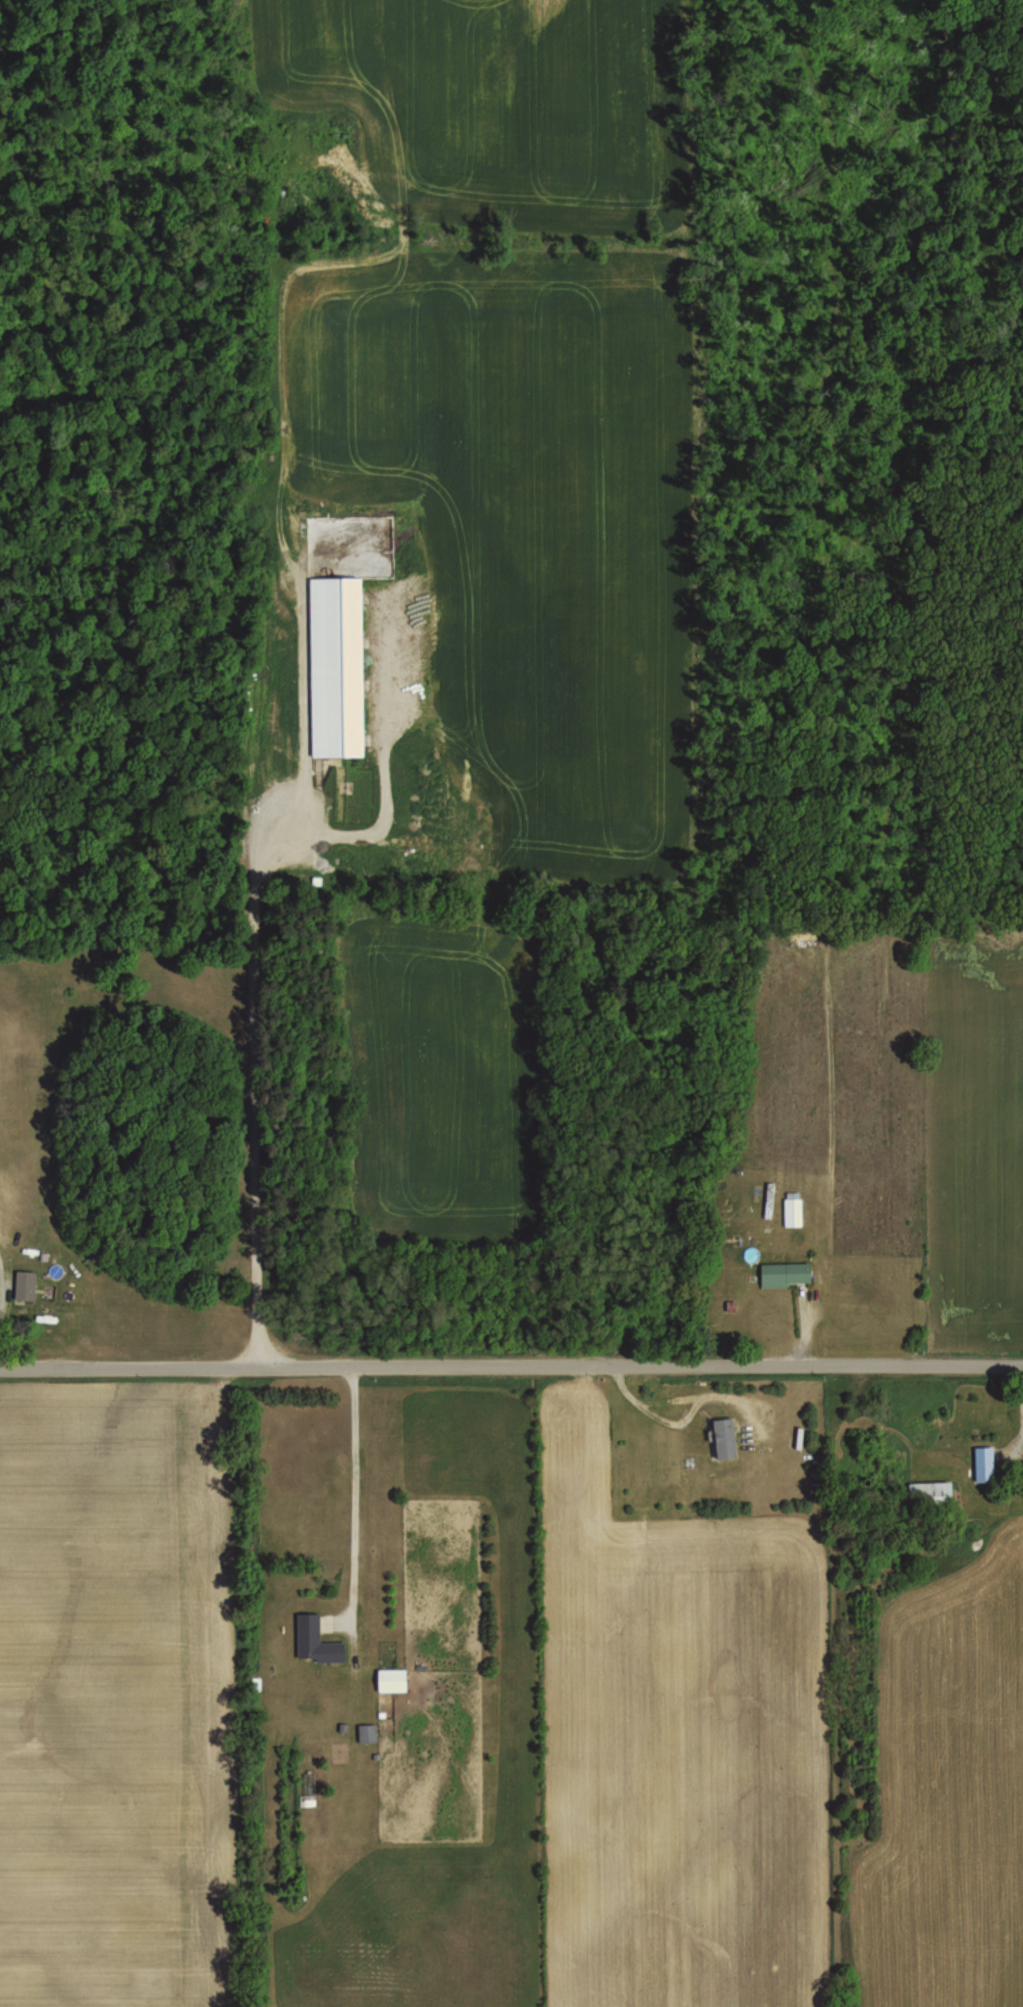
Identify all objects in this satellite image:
building: (335, 667)
road: (256, 1097)
crop: (901, 1103)
building: (770, 1201)
building: (794, 1210)
building: (43, 1256)
building: (786, 1271)
building: (24, 1283)
road: (6, 1288)
building: (730, 1305)
road: (803, 1330)
road: (511, 1364)
road: (653, 1408)
building: (721, 1438)
building: (981, 1464)
building: (904, 1482)
road: (353, 1495)
building: (313, 1642)
building: (389, 1680)
building: (366, 1733)

